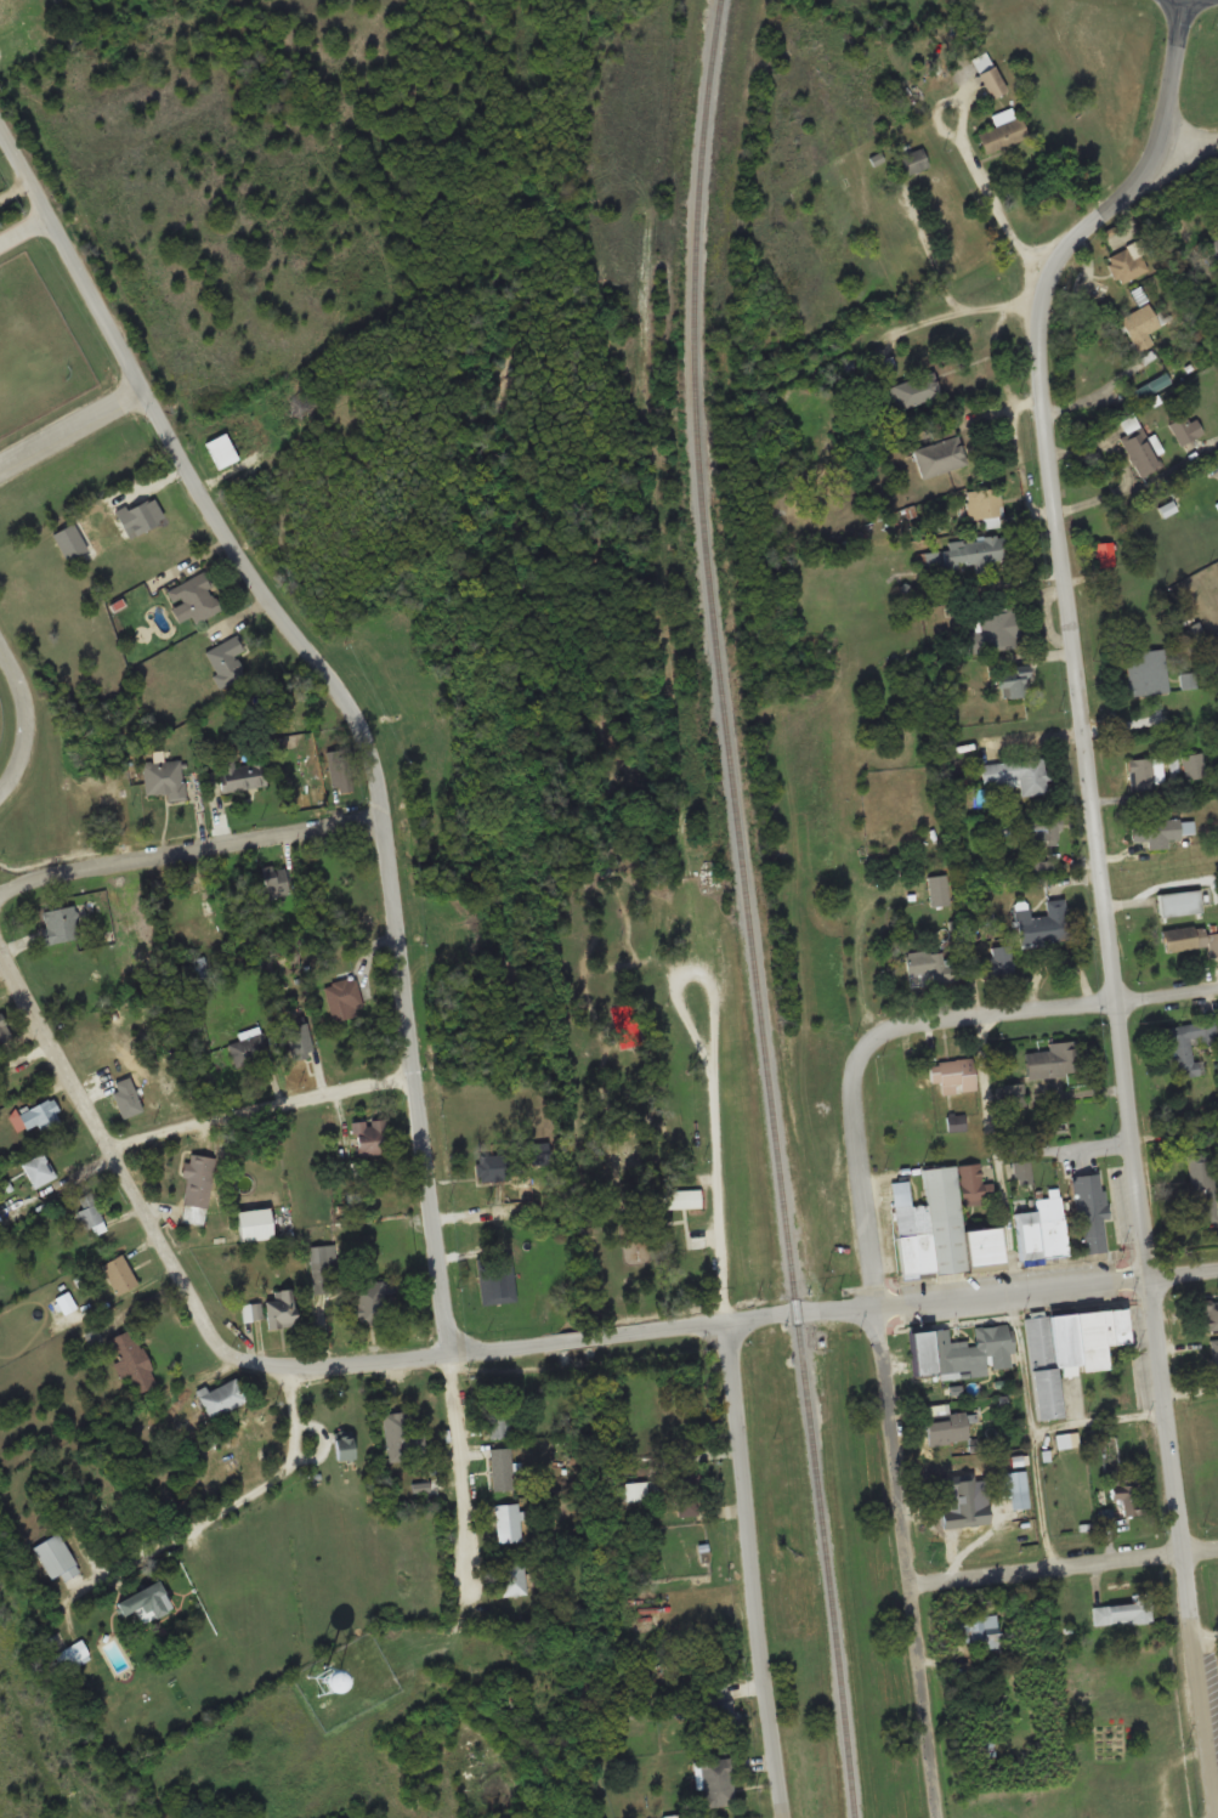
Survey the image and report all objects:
building: (7, 10)
building: (991, 80)
building: (1002, 131)
road: (1190, 135)
building: (913, 162)
road: (982, 162)
road: (26, 231)
building: (1214, 248)
building: (1127, 264)
road: (962, 308)
building: (1139, 322)
building: (914, 391)
road: (70, 427)
building: (1184, 427)
building: (942, 429)
building: (1141, 453)
building: (939, 457)
building: (1217, 485)
building: (988, 506)
building: (140, 515)
building: (973, 550)
building: (1105, 555)
building: (199, 597)
road: (1070, 617)
building: (1002, 628)
building: (226, 659)
building: (1146, 672)
building: (1012, 684)
road: (344, 698)
building: (427, 698)
road: (27, 721)
building: (1194, 765)
building: (242, 774)
building: (1141, 774)
building: (1016, 775)
building: (163, 776)
building: (342, 777)
building: (1155, 831)
building: (1042, 834)
road: (191, 851)
building: (1039, 866)
building: (276, 883)
building: (939, 890)
building: (1179, 902)
railway: (747, 910)
building: (200, 913)
building: (61, 923)
building: (1044, 925)
building: (1189, 939)
building: (997, 961)
building: (933, 965)
building: (344, 998)
road: (1025, 1010)
building: (4, 1031)
building: (298, 1040)
building: (1189, 1046)
building: (250, 1048)
building: (1055, 1059)
building: (952, 1075)
road: (713, 1078)
building: (126, 1097)
road: (264, 1108)
building: (43, 1116)
building: (372, 1137)
building: (493, 1167)
building: (38, 1169)
road: (130, 1179)
building: (1202, 1188)
building: (197, 1189)
road: (862, 1189)
building: (682, 1199)
building: (0, 1218)
building: (254, 1224)
building: (942, 1224)
building: (1041, 1229)
building: (1094, 1235)
building: (324, 1269)
building: (119, 1274)
building: (495, 1281)
road: (973, 1299)
building: (369, 1303)
building: (281, 1308)
building: (251, 1312)
building: (1211, 1313)
road: (510, 1349)
building: (1067, 1349)
building: (920, 1352)
building: (973, 1352)
building: (131, 1360)
building: (1214, 1363)
building: (222, 1397)
building: (674, 1415)
building: (497, 1418)
road: (1097, 1422)
building: (398, 1429)
building: (946, 1429)
road: (1029, 1431)
building: (342, 1446)
building: (502, 1469)
building: (645, 1490)
building: (1015, 1490)
building: (687, 1495)
building: (1126, 1497)
road: (242, 1506)
road: (461, 1518)
building: (508, 1523)
road: (1180, 1533)
building: (56, 1557)
road: (906, 1563)
road: (1063, 1565)
road: (754, 1570)
building: (512, 1579)
building: (145, 1601)
building: (1124, 1610)
building: (975, 1627)
building: (716, 1638)
building: (72, 1655)
water tower: (339, 1692)
building: (720, 1710)
building: (413, 1739)
building: (718, 1782)
building: (562, 1814)

